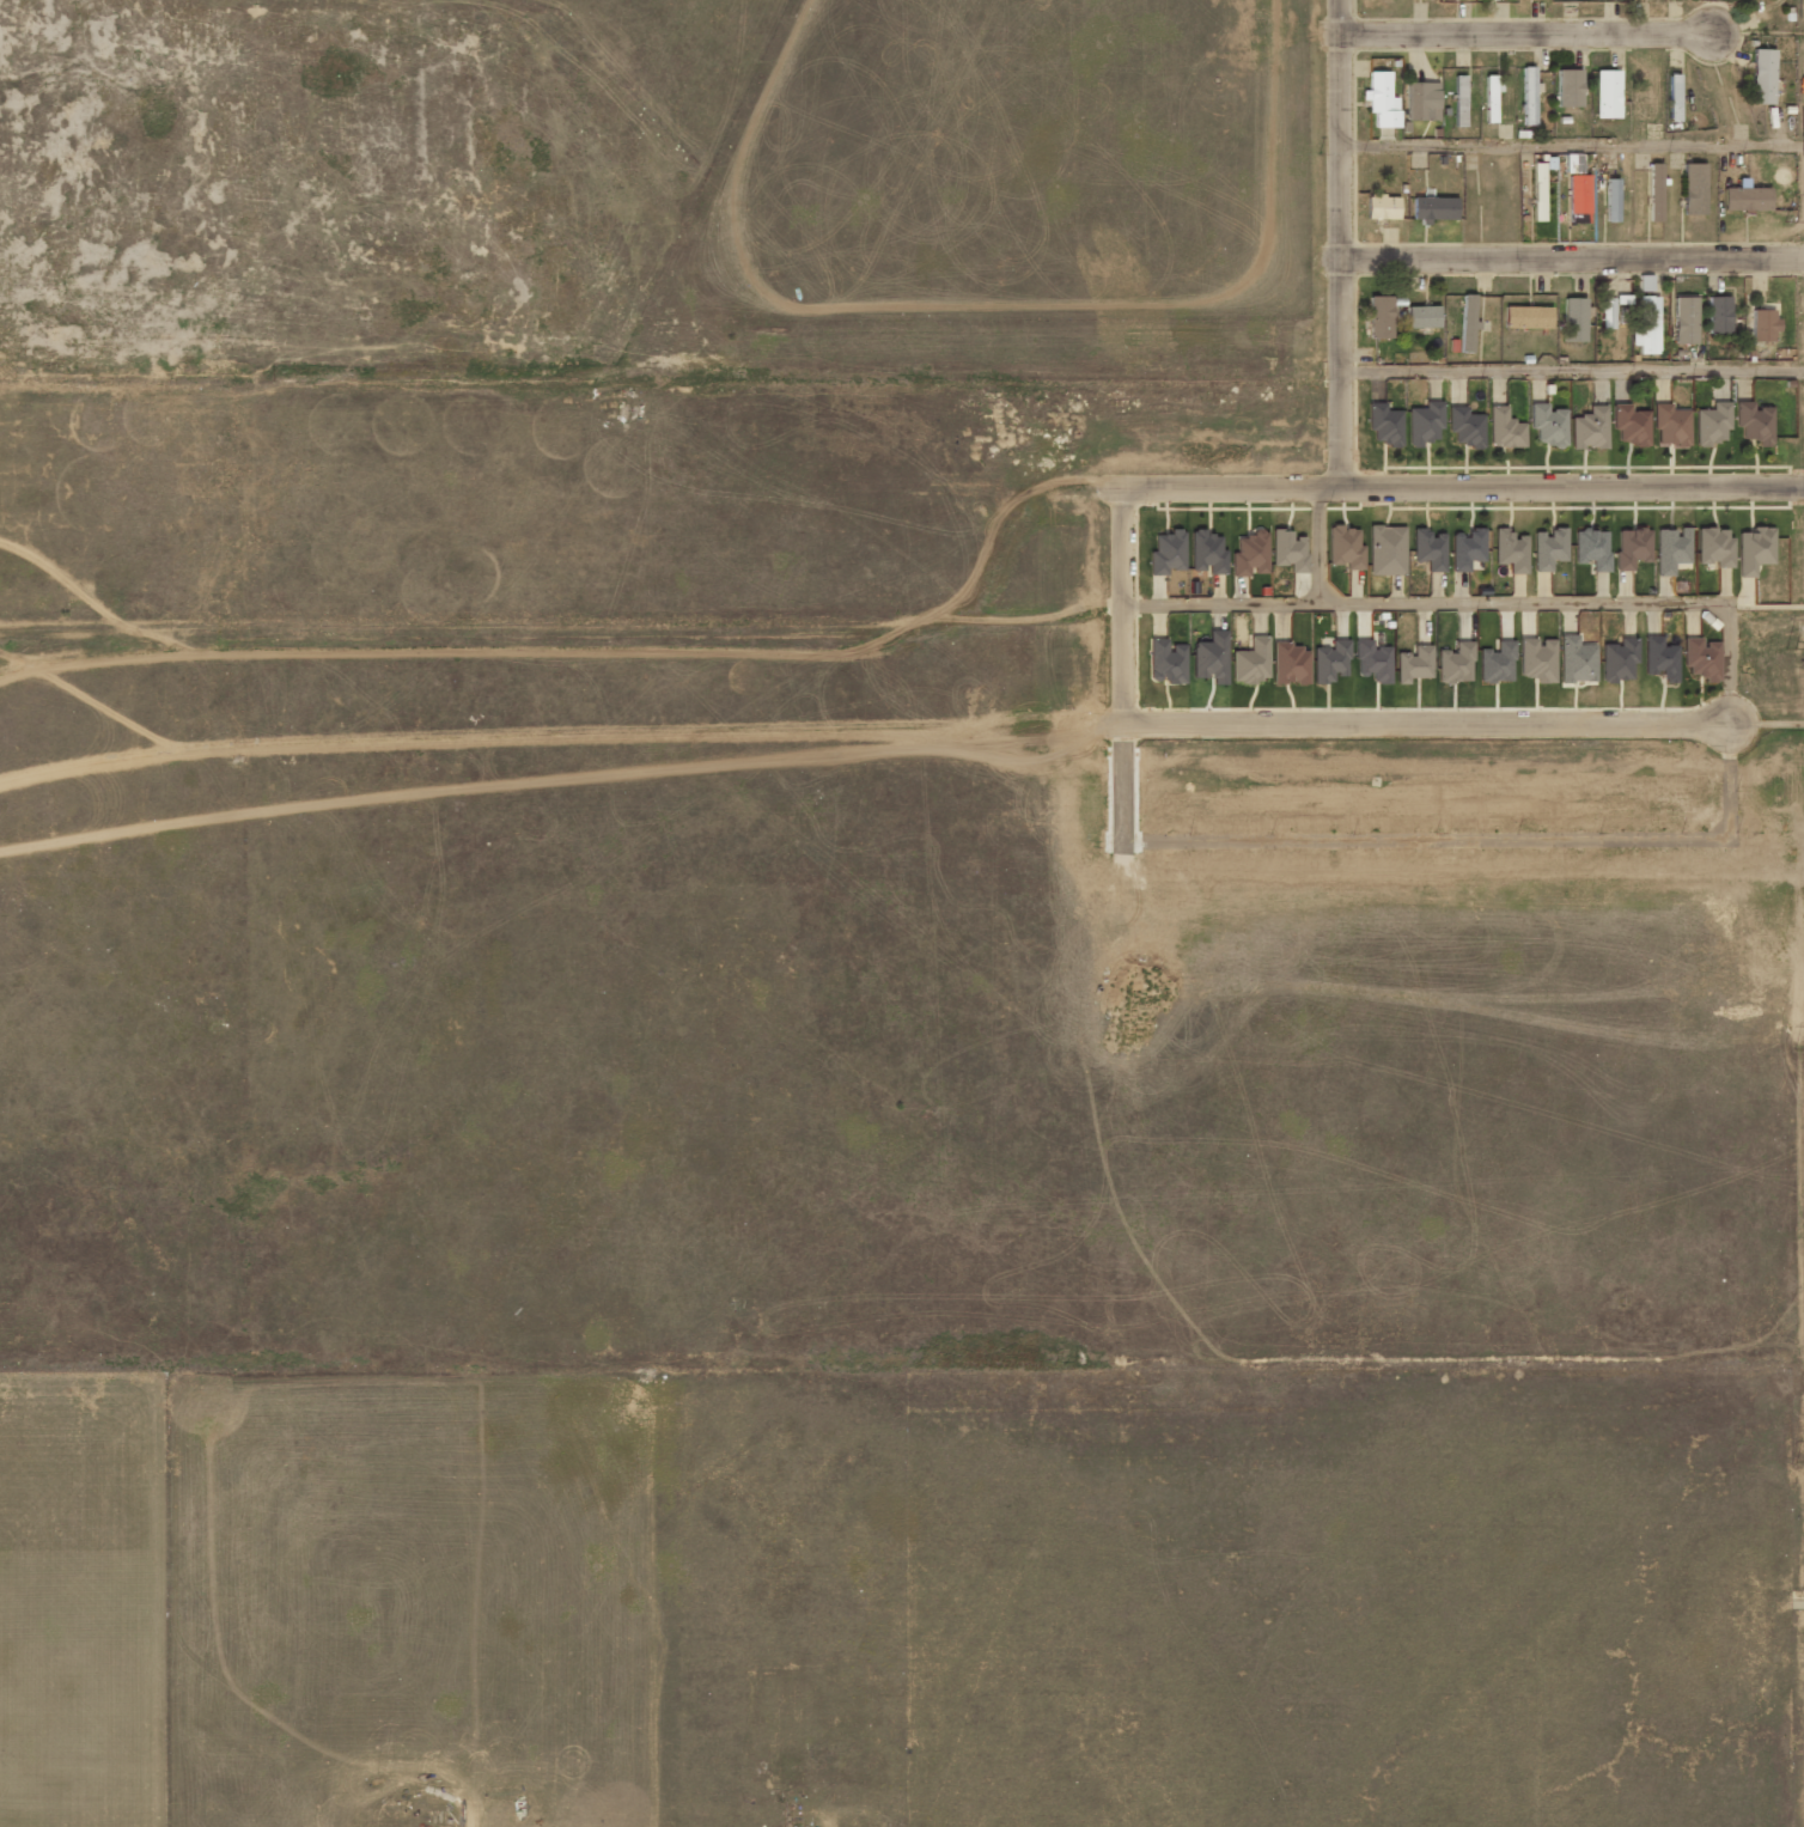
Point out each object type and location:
road: (1525, 34)
building: (1762, 77)
building: (1568, 87)
building: (1607, 93)
building: (1528, 96)
building: (1672, 97)
building: (1491, 98)
building: (1381, 99)
building: (1421, 101)
building: (1458, 101)
building: (1640, 101)
road: (1571, 145)
building: (1572, 163)
building: (1693, 189)
building: (1537, 191)
building: (1654, 191)
building: (1577, 199)
building: (1745, 199)
building: (1610, 200)
building: (1382, 207)
building: (1432, 208)
power tower: (1791, 223)
road: (1339, 244)
road: (1571, 258)
building: (1609, 310)
building: (1718, 313)
building: (1422, 316)
building: (1379, 317)
building: (1526, 317)
building: (1573, 318)
building: (1684, 321)
building: (1467, 322)
building: (1646, 325)
building: (1761, 325)
road: (1572, 370)
building: (1753, 422)
building: (1384, 424)
building: (1424, 424)
building: (1712, 424)
building: (1547, 425)
building: (1629, 425)
building: (1670, 426)
building: (1465, 427)
building: (1504, 428)
building: (1589, 428)
road: (1462, 487)
road: (1315, 544)
building: (1345, 547)
building: (1632, 547)
building: (1713, 547)
building: (1428, 548)
building: (1548, 548)
building: (1591, 548)
building: (1467, 549)
building: (1671, 549)
building: (1288, 550)
building: (1385, 550)
building: (1510, 550)
building: (1754, 550)
building: (1166, 553)
building: (1206, 553)
building: (1249, 554)
road: (1482, 602)
road: (1120, 607)
power tower: (1791, 647)
building: (1209, 658)
building: (1536, 659)
building: (1576, 659)
building: (1617, 659)
building: (1659, 659)
building: (1700, 659)
building: (1166, 662)
building: (1250, 662)
building: (1330, 662)
building: (1372, 662)
building: (1455, 663)
building: (1497, 663)
building: (1290, 664)
building: (1413, 664)
road: (1426, 724)
power tower: (1799, 1049)
power tower: (1800, 1461)

